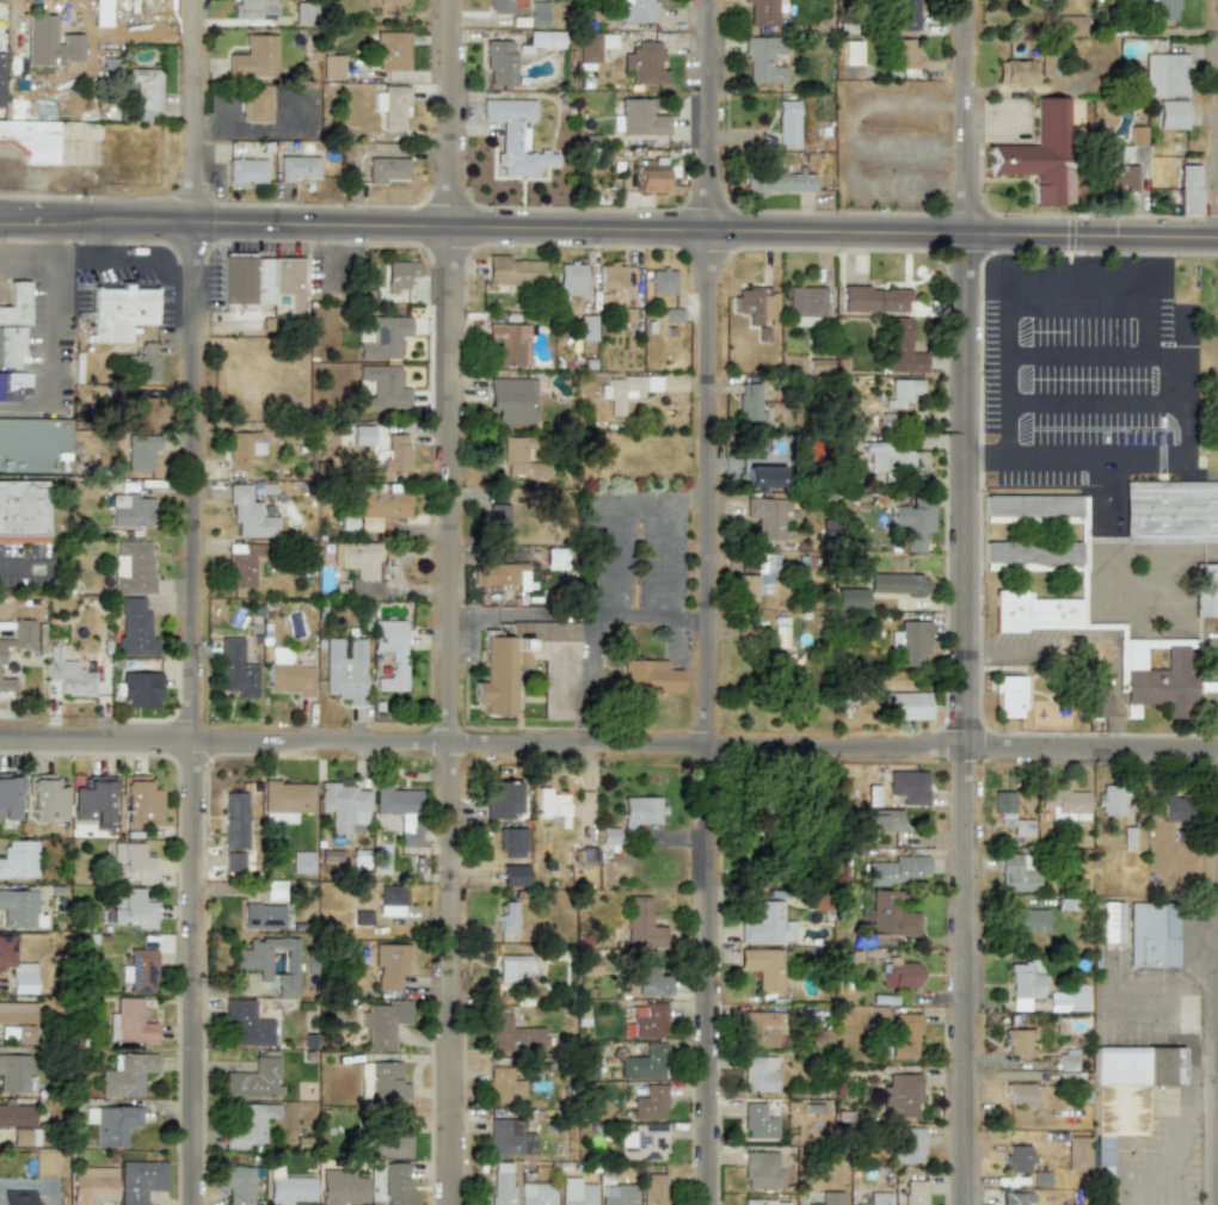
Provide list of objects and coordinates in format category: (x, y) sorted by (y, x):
building: (394, 2)
building: (498, 6)
building: (253, 10)
building: (636, 11)
building: (304, 12)
building: (763, 12)
building: (100, 13)
building: (537, 13)
building: (905, 16)
building: (546, 39)
building: (592, 45)
building: (392, 50)
building: (850, 54)
building: (256, 57)
building: (905, 57)
building: (763, 59)
building: (499, 62)
building: (645, 63)
building: (1048, 66)
building: (332, 67)
building: (1016, 72)
building: (1165, 74)
building: (0, 76)
building: (144, 92)
building: (257, 104)
building: (392, 106)
road: (227, 113)
building: (1171, 115)
building: (640, 117)
road: (988, 121)
building: (787, 124)
road: (258, 129)
building: (515, 136)
building: (30, 140)
building: (1040, 154)
building: (297, 167)
building: (1126, 168)
building: (388, 170)
building: (246, 171)
building: (650, 177)
building: (776, 183)
building: (1187, 190)
road: (0, 220)
road: (0, 221)
road: (609, 228)
road: (97, 262)
building: (513, 271)
building: (399, 275)
building: (610, 276)
building: (570, 279)
building: (246, 281)
building: (662, 282)
building: (289, 283)
building: (873, 299)
building: (14, 305)
road: (1078, 305)
building: (756, 306)
building: (805, 306)
building: (121, 312)
building: (672, 315)
building: (586, 327)
building: (762, 334)
building: (383, 337)
road: (51, 339)
building: (510, 343)
building: (11, 345)
building: (903, 348)
road: (1078, 348)
building: (143, 362)
building: (818, 365)
road: (1005, 380)
building: (13, 386)
building: (382, 387)
building: (628, 391)
building: (902, 392)
road: (1097, 399)
building: (512, 400)
building: (749, 402)
building: (142, 412)
road: (1186, 436)
building: (242, 449)
building: (141, 451)
building: (396, 453)
building: (888, 456)
building: (518, 457)
road: (636, 500)
road: (685, 502)
building: (380, 508)
building: (1034, 508)
building: (130, 510)
building: (21, 511)
building: (1169, 512)
building: (250, 515)
building: (768, 516)
building: (498, 522)
building: (913, 522)
building: (1033, 552)
road: (610, 558)
road: (663, 559)
building: (242, 564)
building: (133, 567)
building: (363, 567)
road: (17, 568)
building: (498, 573)
building: (756, 578)
building: (898, 584)
building: (1206, 590)
building: (851, 598)
road: (193, 602)
road: (451, 602)
road: (710, 602)
road: (965, 602)
building: (1034, 611)
road: (580, 614)
building: (135, 628)
building: (780, 632)
building: (19, 637)
building: (910, 643)
building: (390, 652)
building: (1091, 653)
road: (589, 665)
building: (235, 669)
building: (344, 670)
building: (559, 672)
building: (68, 675)
building: (1155, 677)
building: (290, 680)
building: (647, 680)
building: (6, 684)
building: (140, 689)
building: (1008, 696)
building: (1096, 697)
building: (904, 706)
road: (608, 745)
building: (908, 787)
building: (8, 795)
building: (45, 798)
building: (502, 799)
building: (93, 800)
building: (140, 800)
building: (285, 800)
building: (1109, 800)
building: (1063, 803)
building: (343, 805)
building: (552, 807)
building: (1174, 809)
building: (401, 811)
building: (640, 811)
building: (1008, 814)
building: (234, 819)
building: (880, 820)
building: (608, 837)
building: (512, 842)
building: (18, 859)
building: (233, 861)
building: (302, 862)
building: (131, 863)
building: (896, 871)
building: (1014, 874)
building: (513, 875)
building: (392, 900)
building: (816, 904)
building: (19, 909)
building: (130, 909)
building: (263, 916)
building: (888, 916)
building: (507, 917)
building: (1023, 920)
building: (1109, 922)
building: (641, 924)
building: (768, 924)
building: (1150, 934)
building: (252, 959)
building: (390, 965)
building: (765, 966)
building: (16, 967)
building: (515, 967)
building: (141, 971)
building: (898, 973)
building: (648, 980)
building: (1023, 984)
road: (1169, 989)
building: (1068, 1000)
building: (18, 1019)
building: (648, 1020)
building: (130, 1021)
building: (383, 1023)
building: (246, 1025)
building: (765, 1029)
building: (512, 1035)
building: (902, 1035)
building: (818, 1039)
building: (1017, 1043)
building: (1066, 1060)
building: (644, 1063)
building: (13, 1072)
building: (759, 1072)
building: (125, 1074)
building: (253, 1080)
building: (387, 1084)
building: (503, 1088)
building: (900, 1095)
building: (1019, 1095)
building: (650, 1103)
building: (16, 1115)
building: (758, 1123)
building: (109, 1125)
building: (250, 1125)
building: (24, 1136)
building: (509, 1137)
building: (642, 1143)
building: (388, 1144)
building: (906, 1145)
road: (1182, 1150)
building: (1077, 1154)
building: (1017, 1157)
building: (759, 1169)
building: (1040, 1179)
building: (140, 1180)
building: (235, 1184)
building: (396, 1184)
building: (502, 1184)
building: (92, 1185)
building: (342, 1187)
building: (288, 1188)
building: (652, 1188)
building: (576, 1192)
building: (913, 1192)
building: (536, 1193)
building: (617, 1194)
building: (18, 1198)
building: (829, 1198)
building: (878, 1198)
building: (1015, 1198)
building: (764, 1203)
building: (859, 1204)

